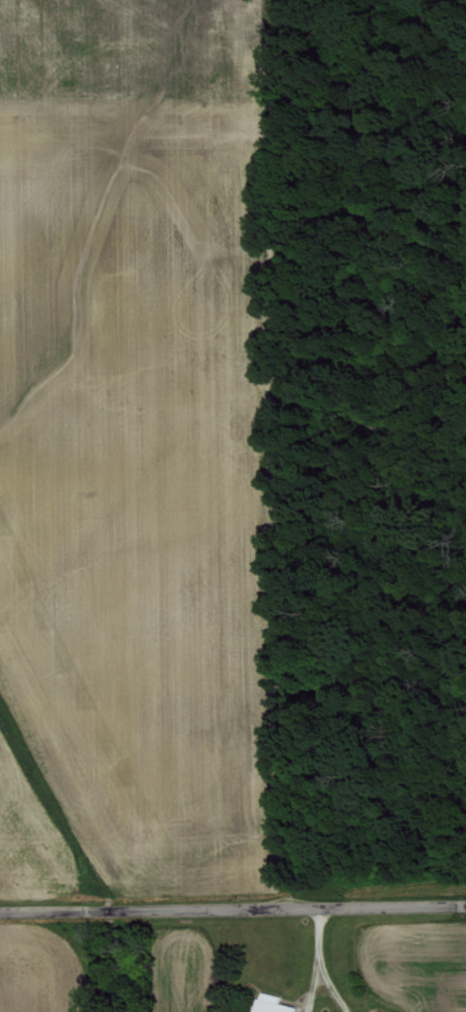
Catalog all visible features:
road: (232, 911)
road: (316, 950)
road: (323, 993)
building: (269, 1003)

